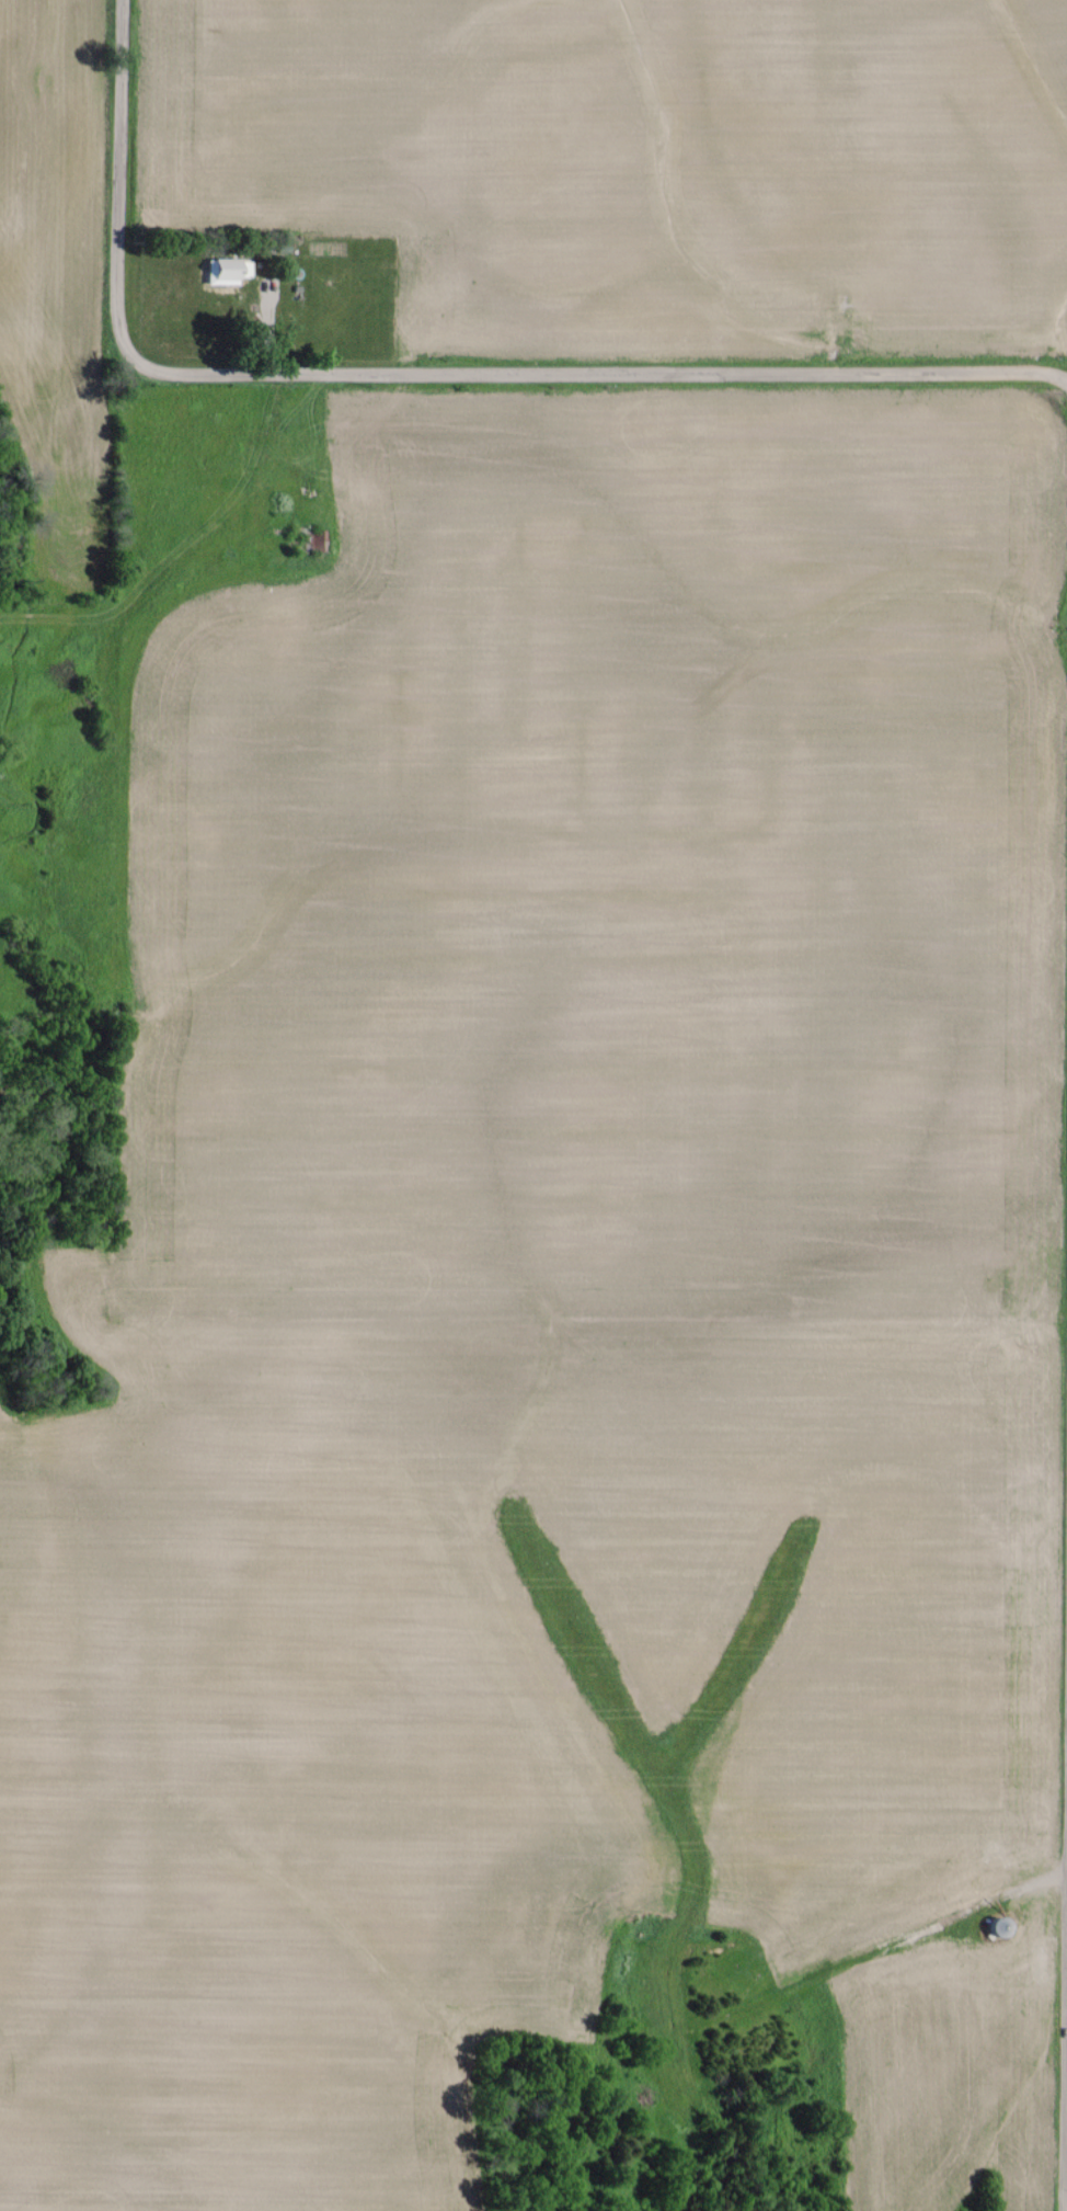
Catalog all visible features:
road: (116, 189)
building: (227, 270)
road: (617, 368)
road: (1065, 1896)

